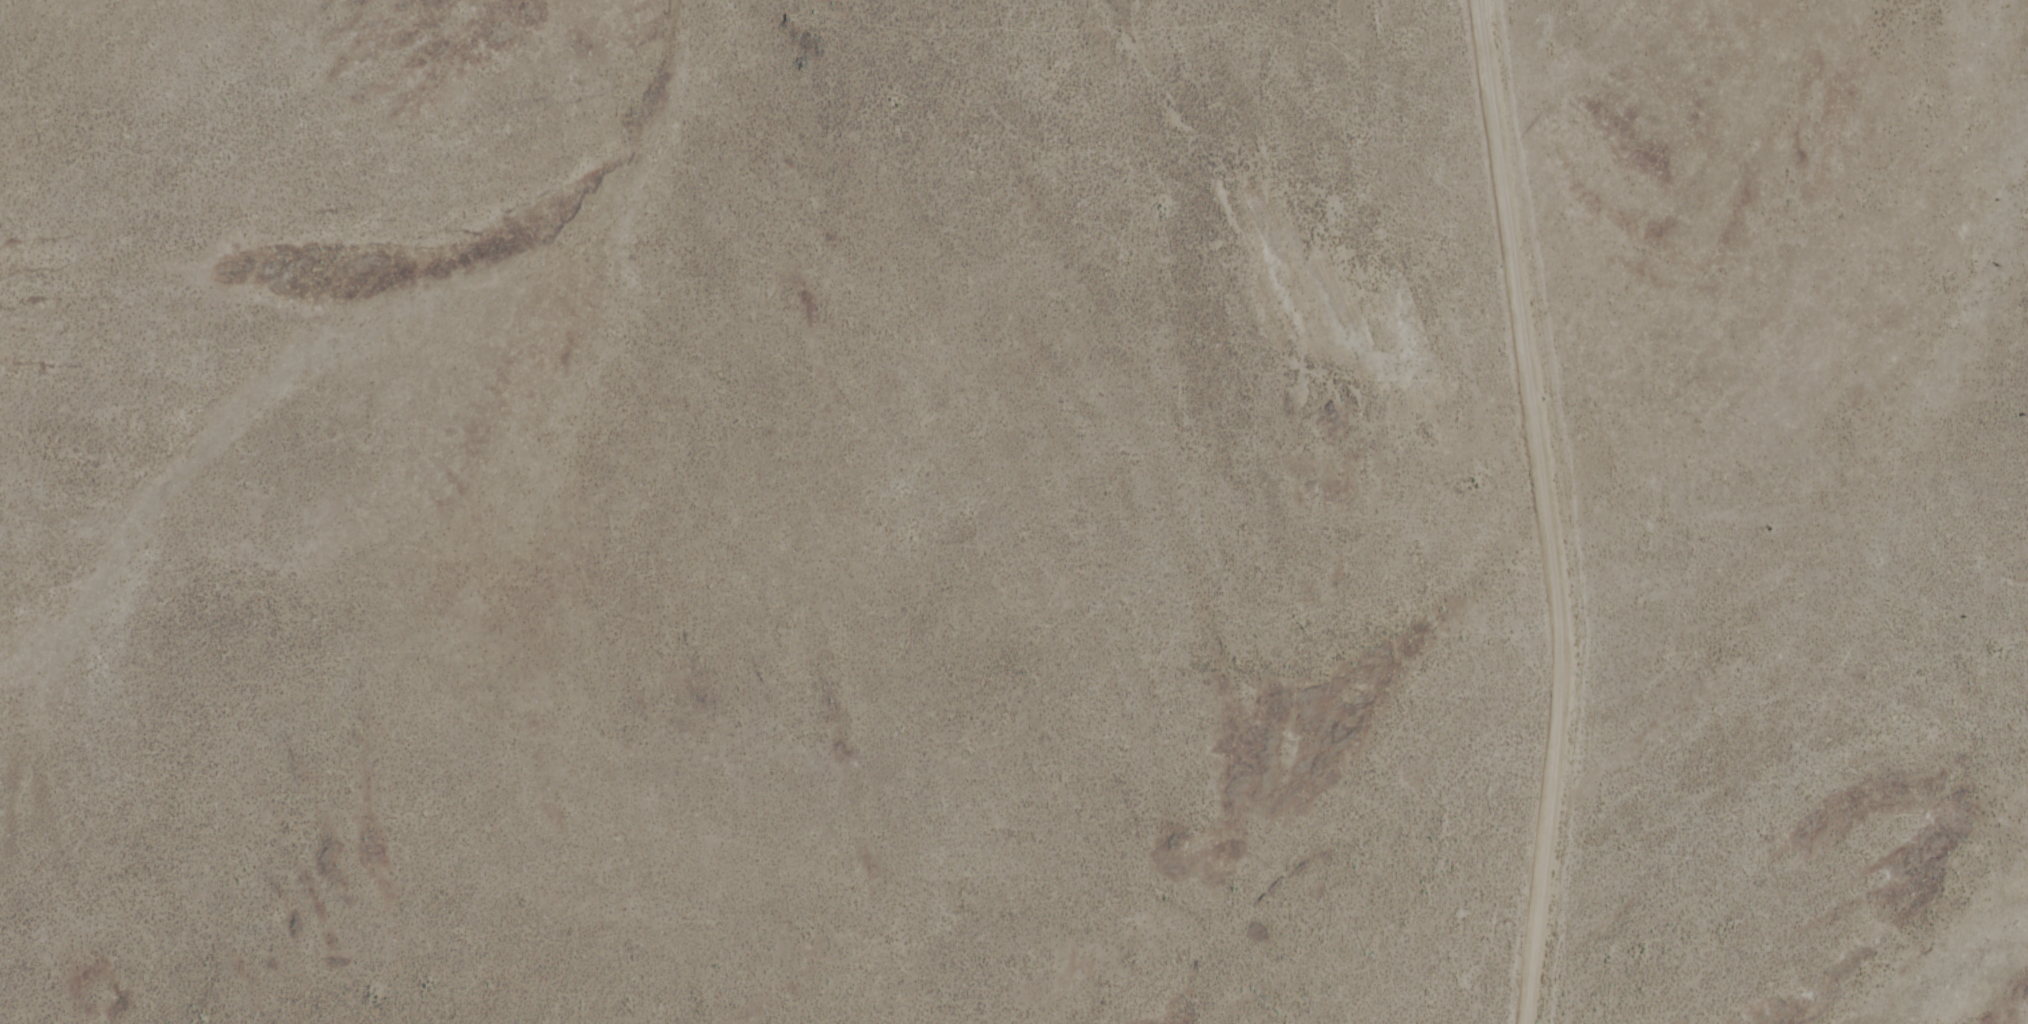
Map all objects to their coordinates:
road: (1542, 511)

